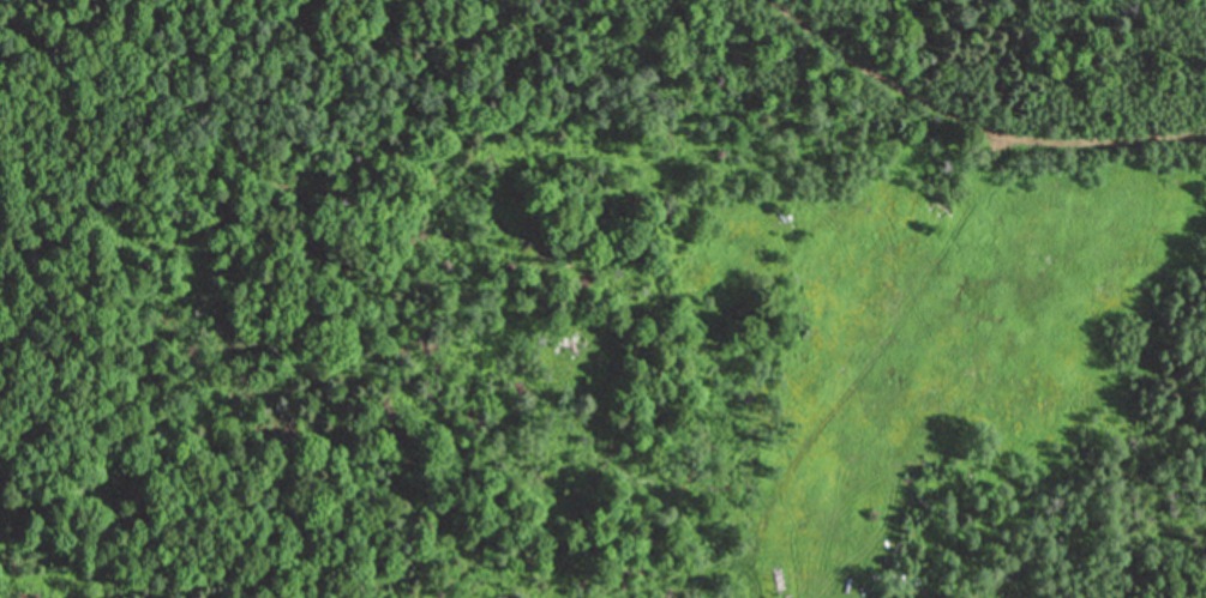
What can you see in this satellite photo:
road: (972, 120)

